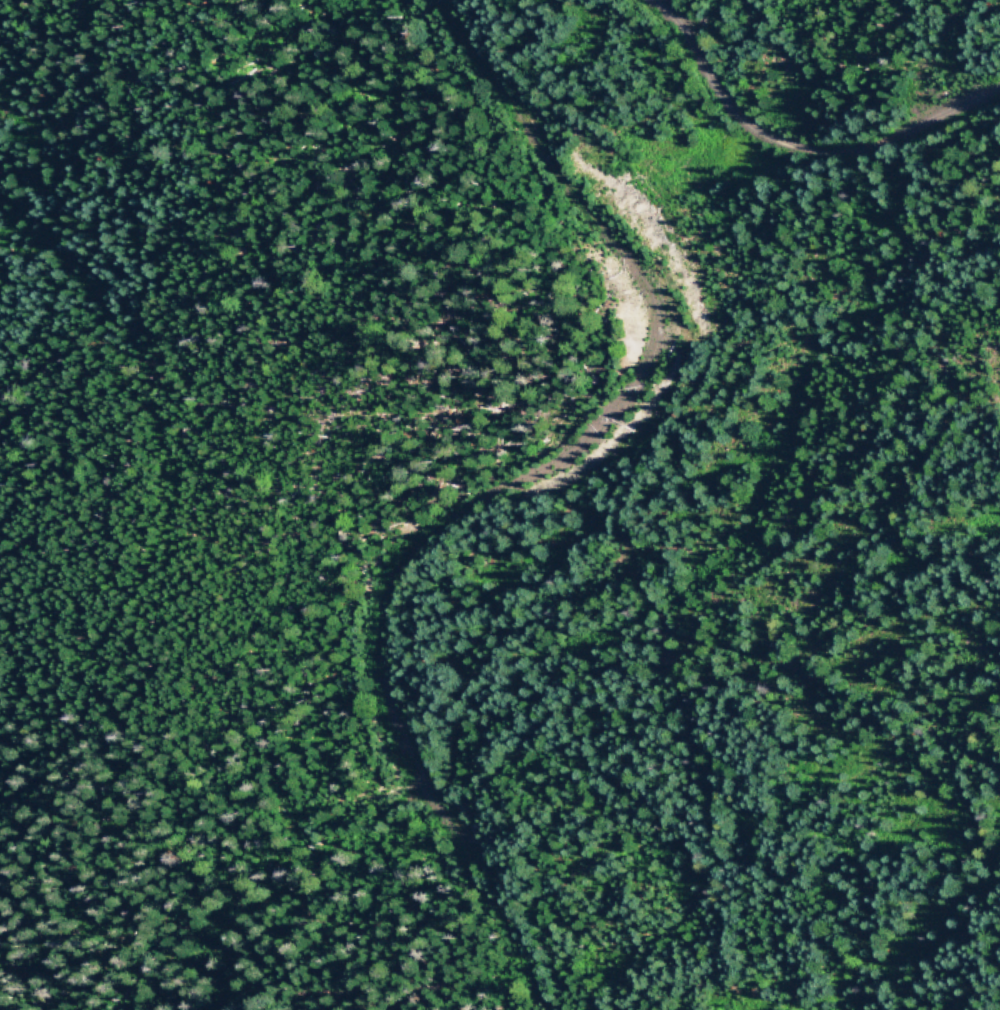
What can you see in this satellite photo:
road: (791, 153)
road: (139, 236)
road: (94, 795)

